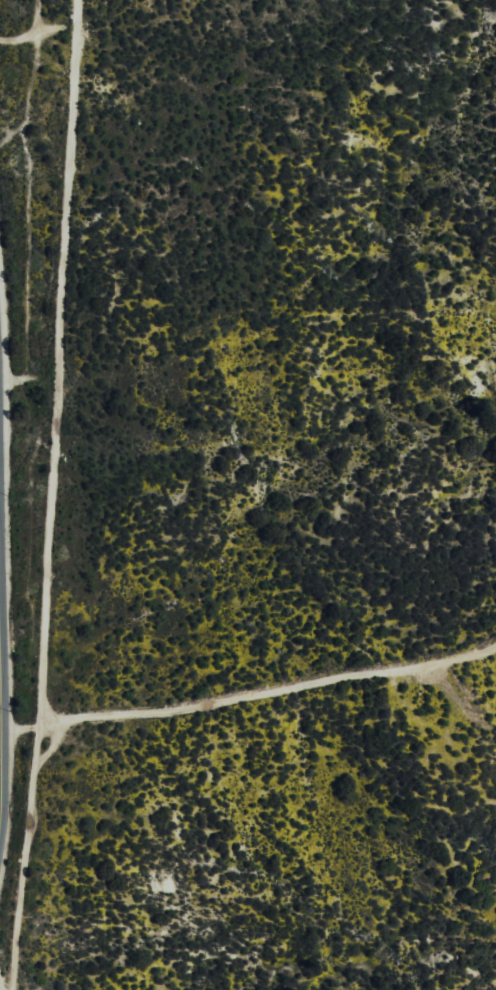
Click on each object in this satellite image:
road: (5, 723)

